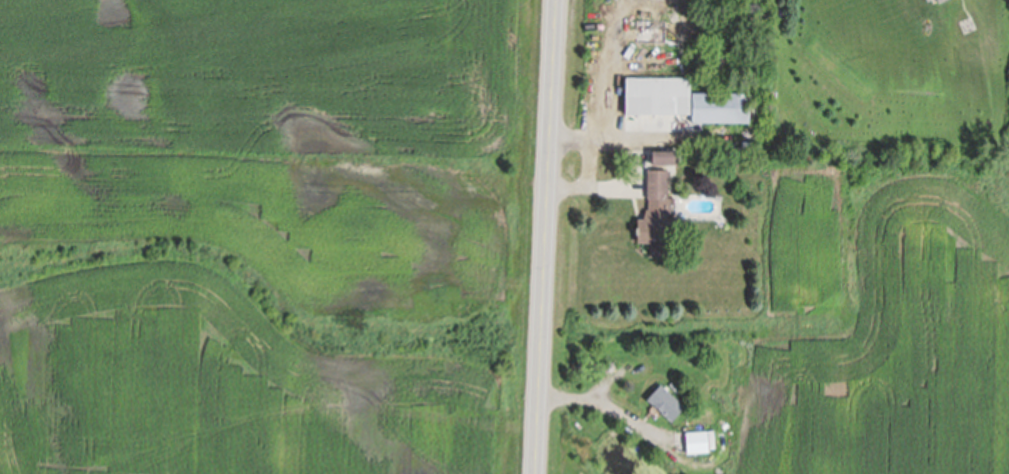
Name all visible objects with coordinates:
building: (927, 0)
building: (939, 1)
building: (658, 96)
building: (720, 107)
road: (649, 140)
building: (665, 157)
road: (587, 163)
road: (612, 190)
building: (658, 217)
road: (545, 236)
building: (666, 403)
road: (604, 404)
building: (698, 440)

